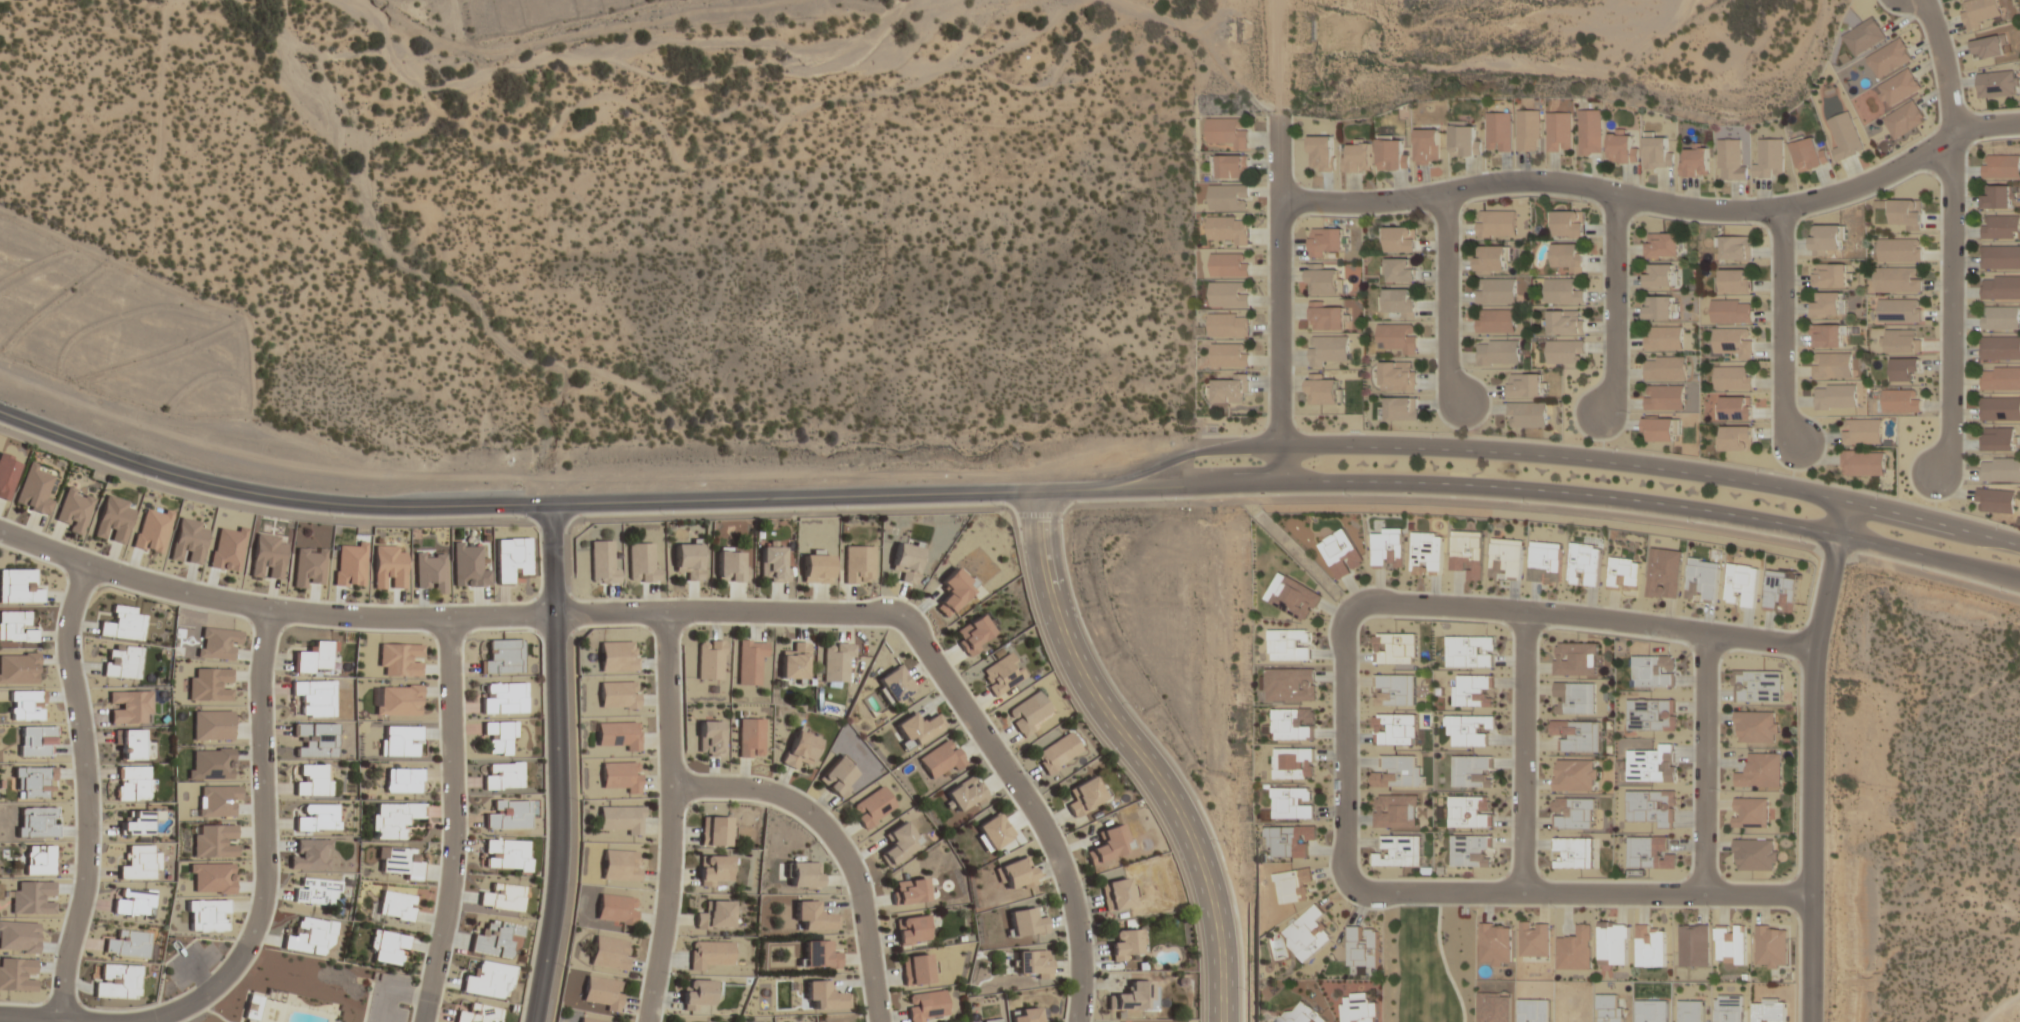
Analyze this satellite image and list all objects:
building: (1979, 12)
building: (1865, 36)
building: (1989, 46)
building: (1889, 58)
building: (1997, 83)
building: (1898, 87)
building: (1904, 119)
building: (1528, 130)
building: (1499, 131)
building: (1559, 132)
building: (1590, 132)
building: (1228, 133)
building: (1845, 135)
building: (1463, 138)
building: (1427, 146)
building: (1622, 148)
building: (1658, 152)
building: (1322, 153)
building: (1810, 153)
building: (1392, 154)
building: (1357, 157)
building: (1769, 158)
building: (1731, 159)
building: (1696, 160)
building: (1230, 167)
building: (2001, 167)
street lamp: (1931, 175)
building: (1997, 197)
building: (1227, 198)
street lamp: (1585, 200)
road: (1656, 201)
street lamp: (1264, 212)
street lamp: (1412, 212)
building: (1907, 212)
building: (1495, 224)
building: (1567, 224)
street lamp: (1750, 224)
building: (2000, 228)
building: (1227, 230)
road: (1953, 235)
building: (1400, 239)
building: (1825, 239)
building: (1326, 243)
building: (1662, 245)
building: (1734, 247)
building: (1899, 250)
building: (1568, 257)
building: (2000, 258)
building: (1491, 259)
building: (1229, 265)
building: (1399, 270)
building: (1660, 275)
building: (1831, 275)
building: (1897, 280)
building: (1736, 281)
building: (1323, 282)
building: (2000, 288)
building: (1564, 290)
building: (1496, 291)
building: (1229, 294)
road: (1279, 298)
road: (1446, 302)
building: (1398, 303)
road: (1614, 304)
building: (1828, 304)
building: (1660, 307)
building: (1732, 312)
building: (1898, 312)
building: (1326, 319)
building: (2000, 319)
building: (1496, 321)
building: (1566, 322)
building: (1228, 324)
road: (1783, 326)
building: (1826, 336)
building: (1663, 338)
building: (1396, 340)
building: (1903, 341)
building: (1732, 343)
building: (1999, 349)
building: (1328, 351)
building: (1498, 352)
building: (1565, 352)
building: (1229, 354)
building: (1832, 366)
building: (1665, 368)
street lamp: (1465, 369)
building: (1904, 370)
building: (1397, 377)
building: (1733, 379)
building: (2000, 380)
building: (1526, 385)
building: (1231, 388)
building: (1323, 389)
building: (1835, 396)
building: (1664, 397)
building: (1900, 401)
building: (1735, 409)
building: (1400, 410)
building: (1999, 410)
street lamp: (1629, 413)
building: (1527, 414)
street lamp: (1936, 415)
street lamp: (1768, 422)
building: (1661, 429)
building: (1862, 431)
street lamp: (1248, 432)
street lamp: (1438, 433)
building: (1736, 439)
building: (1999, 440)
street lamp: (1620, 448)
road: (1553, 456)
building: (1863, 462)
street lamp: (1763, 469)
building: (1999, 471)
road: (1184, 486)
street lamp: (1882, 493)
street lamp: (1348, 495)
building: (1995, 502)
street lamp: (1527, 503)
street lamp: (995, 505)
road: (1653, 505)
road: (536, 508)
street lamp: (1693, 523)
street lamp: (2003, 524)
street lamp: (1804, 542)
street lamp: (81, 546)
building: (227, 548)
building: (1387, 548)
building: (1338, 552)
building: (1427, 552)
building: (1467, 553)
building: (268, 556)
building: (688, 558)
building: (1506, 559)
building: (906, 560)
building: (603, 562)
building: (1545, 562)
building: (642, 563)
building: (773, 563)
building: (858, 564)
building: (1585, 564)
building: (308, 565)
building: (731, 566)
building: (816, 567)
street lamp: (1926, 570)
building: (1665, 573)
building: (1624, 574)
building: (1703, 580)
street lamp: (1369, 584)
building: (1742, 585)
building: (18, 586)
street lamp: (240, 588)
building: (954, 590)
building: (1781, 590)
street lamp: (2005, 592)
street lamp: (1524, 596)
building: (1295, 599)
street lamp: (451, 602)
street lamp: (913, 602)
road: (671, 610)
street lamp: (1718, 619)
building: (124, 624)
street lamp: (696, 624)
street lamp: (1034, 624)
building: (16, 627)
street lamp: (578, 630)
building: (974, 634)
building: (218, 643)
building: (1289, 644)
building: (1395, 648)
building: (1470, 651)
building: (617, 656)
building: (504, 657)
building: (313, 658)
building: (1574, 658)
building: (400, 659)
building: (710, 660)
building: (795, 661)
building: (837, 661)
building: (122, 662)
building: (750, 663)
building: (19, 667)
building: (1654, 670)
building: (1001, 674)
building: (210, 684)
building: (894, 684)
building: (1291, 685)
building: (1757, 685)
building: (1394, 689)
building: (1473, 690)
building: (618, 694)
building: (315, 697)
building: (1574, 697)
building: (503, 698)
street lamp: (1130, 703)
building: (26, 704)
building: (129, 706)
building: (1028, 713)
building: (1651, 714)
building: (1293, 724)
building: (212, 725)
building: (1755, 727)
building: (1469, 728)
building: (1395, 729)
building: (917, 730)
building: (617, 735)
building: (1577, 735)
building: (499, 737)
building: (750, 737)
building: (709, 738)
building: (316, 739)
building: (36, 741)
building: (400, 741)
street lamp: (1330, 743)
road: (1344, 743)
building: (131, 744)
building: (800, 748)
street lamp: (1104, 750)
street lamp: (1509, 751)
building: (1057, 752)
road: (1524, 752)
street lamp: (1013, 753)
road: (1140, 753)
road: (1814, 759)
building: (940, 761)
building: (1294, 762)
road: (1705, 762)
building: (211, 764)
building: (1653, 764)
road: (559, 765)
building: (1473, 770)
building: (1760, 770)
building: (1398, 772)
building: (1574, 774)
building: (503, 775)
building: (619, 777)
building: (838, 777)
building: (313, 780)
building: (403, 780)
building: (35, 781)
building: (133, 782)
road: (76, 789)
street lamp: (1719, 789)
building: (965, 795)
building: (1084, 796)
building: (218, 800)
building: (1293, 802)
street lamp: (690, 805)
building: (1652, 806)
building: (872, 808)
building: (1396, 810)
building: (1470, 811)
building: (1750, 812)
building: (1574, 813)
building: (508, 814)
road: (672, 816)
building: (317, 817)
building: (622, 818)
building: (393, 819)
road: (454, 821)
building: (37, 822)
building: (138, 823)
building: (993, 831)
building: (714, 832)
building: (1290, 839)
building: (214, 841)
street lamp: (1219, 841)
road: (838, 842)
building: (900, 842)
building: (1110, 843)
building: (1472, 850)
building: (1399, 851)
building: (1574, 852)
building: (1650, 852)
building: (507, 854)
building: (1755, 854)
building: (310, 855)
building: (39, 860)
building: (398, 862)
building: (140, 863)
building: (620, 864)
building: (714, 871)
building: (804, 874)
building: (1016, 874)
building: (212, 878)
street lamp: (874, 884)
building: (1294, 884)
building: (316, 891)
building: (910, 891)
building: (1117, 894)
building: (33, 897)
building: (503, 897)
building: (133, 903)
building: (394, 905)
street lamp: (1354, 905)
street lamp: (1555, 907)
street lamp: (1712, 908)
building: (616, 909)
street lamp: (1190, 909)
road: (250, 912)
building: (715, 914)
building: (207, 915)
building: (813, 916)
building: (1026, 922)
street lamp: (1092, 924)
building: (912, 930)
building: (1308, 933)
building: (311, 936)
building: (1535, 938)
building: (497, 939)
building: (1495, 943)
building: (1613, 943)
building: (1126, 944)
building: (1730, 944)
building: (128, 945)
building: (1693, 945)
building: (1771, 946)
building: (388, 947)
building: (1362, 947)
building: (1650, 947)
building: (1575, 948)
building: (710, 953)
building: (609, 954)
building: (818, 955)
building: (1032, 963)
building: (916, 970)
street lamp: (670, 974)
building: (17, 975)
building: (489, 979)
building: (116, 983)
street lamp: (1247, 990)
building: (601, 993)
building: (697, 993)
building: (824, 996)
building: (1133, 997)
street lamp: (32, 1002)
building: (927, 1007)
building: (1729, 1007)
building: (1357, 1008)
building: (1769, 1009)
building: (480, 1013)
building: (1303, 1013)
building: (1028, 1015)
building: (590, 1019)
building: (993, 1020)

